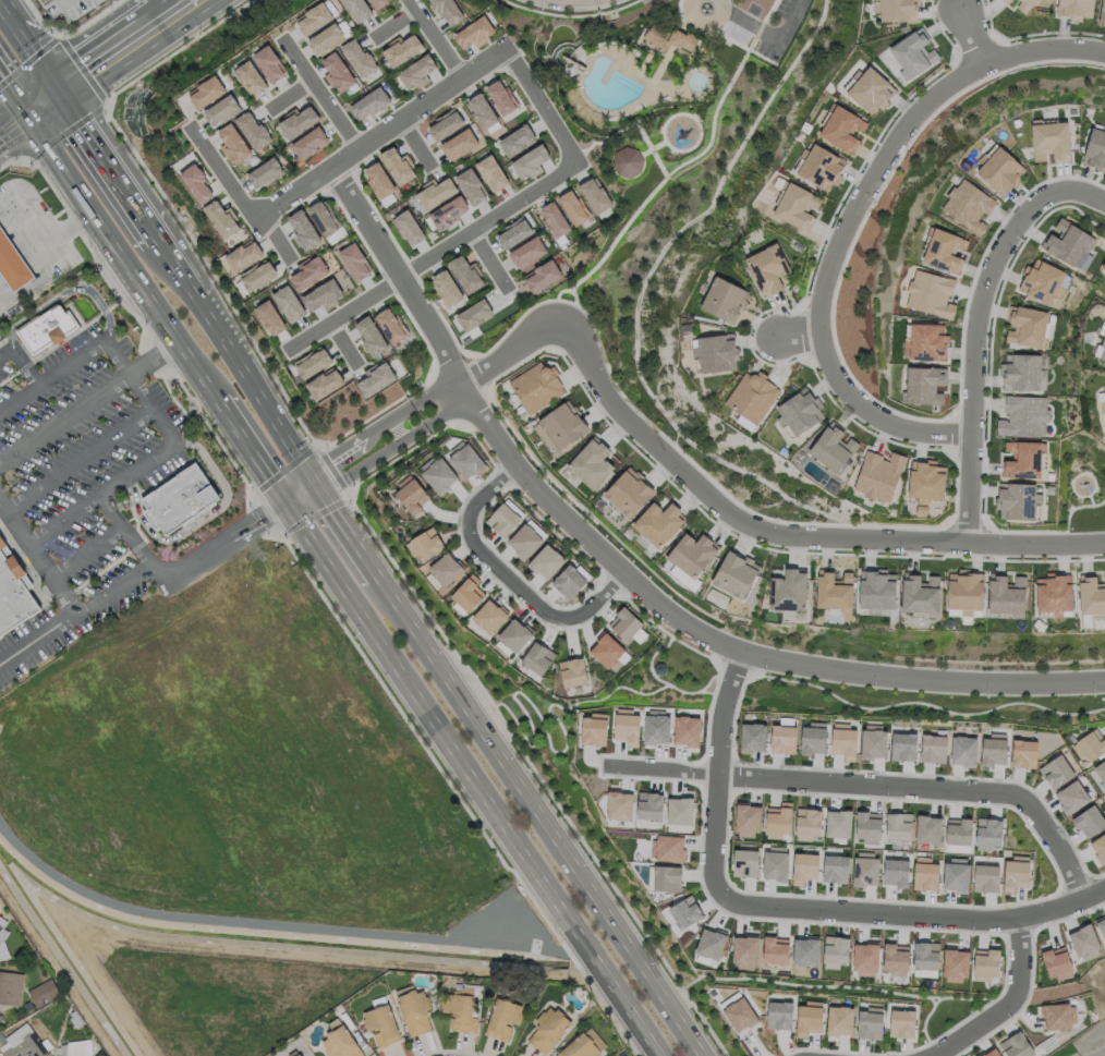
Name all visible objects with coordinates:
road: (576, 0)
building: (378, 3)
building: (1022, 3)
road: (169, 8)
road: (186, 8)
building: (356, 9)
building: (1074, 9)
building: (896, 10)
building: (447, 11)
building: (1102, 12)
building: (316, 16)
road: (703, 19)
road: (160, 26)
road: (398, 27)
building: (474, 33)
road: (767, 33)
road: (975, 33)
building: (329, 37)
building: (668, 38)
road: (436, 39)
road: (37, 44)
building: (401, 49)
road: (1069, 49)
building: (913, 53)
building: (360, 58)
road: (108, 63)
building: (269, 63)
building: (337, 72)
building: (414, 73)
building: (251, 78)
traffic signals: (69, 89)
building: (871, 90)
building: (207, 92)
road: (292, 95)
road: (321, 95)
building: (500, 97)
road: (12, 104)
road: (47, 104)
building: (369, 104)
road: (542, 105)
building: (222, 109)
building: (482, 113)
road: (12, 118)
traffic signals: (25, 119)
building: (297, 121)
building: (446, 124)
building: (841, 128)
building: (253, 131)
road: (15, 134)
road: (382, 135)
building: (515, 141)
building: (1051, 141)
building: (233, 143)
building: (309, 143)
building: (459, 144)
road: (421, 145)
building: (1095, 148)
road: (118, 160)
building: (530, 161)
building: (627, 161)
building: (396, 165)
building: (822, 167)
building: (1000, 170)
building: (265, 172)
building: (490, 172)
road: (223, 173)
building: (196, 183)
building: (379, 183)
building: (471, 186)
road: (1081, 189)
building: (435, 192)
building: (594, 195)
building: (798, 206)
building: (968, 206)
building: (573, 207)
building: (446, 214)
building: (221, 218)
building: (323, 218)
building: (552, 220)
road: (40, 224)
building: (406, 228)
building: (303, 230)
building: (513, 232)
road: (278, 236)
building: (1067, 242)
road: (841, 248)
building: (944, 248)
building: (526, 253)
building: (243, 255)
road: (120, 258)
road: (434, 258)
building: (354, 262)
road: (491, 262)
building: (13, 263)
gas station: (13, 263)
road: (183, 265)
building: (1103, 265)
building: (1103, 268)
building: (769, 269)
building: (307, 272)
building: (465, 274)
building: (258, 276)
building: (541, 276)
road: (35, 281)
building: (1042, 281)
building: (445, 288)
road: (63, 292)
building: (931, 294)
building: (323, 295)
building: (726, 301)
building: (289, 305)
road: (3, 306)
building: (475, 315)
building: (270, 319)
building: (392, 327)
building: (1030, 327)
building: (47, 330)
road: (799, 335)
building: (372, 338)
building: (927, 341)
building: (1101, 343)
road: (345, 345)
building: (717, 353)
road: (980, 354)
road: (21, 361)
building: (313, 364)
road: (69, 365)
building: (1024, 372)
building: (376, 380)
road: (256, 384)
building: (325, 385)
building: (924, 385)
building: (537, 388)
building: (754, 398)
building: (1102, 400)
road: (86, 401)
road: (151, 408)
building: (802, 412)
building: (1024, 416)
road: (399, 417)
building: (563, 426)
road: (398, 433)
road: (413, 437)
building: (835, 448)
road: (247, 452)
building: (466, 457)
building: (1024, 459)
road: (75, 460)
building: (592, 465)
road: (137, 469)
traffic signals: (312, 472)
building: (439, 474)
building: (879, 475)
building: (927, 481)
road: (318, 482)
road: (297, 487)
traffic signals: (325, 493)
building: (630, 494)
building: (412, 495)
road: (304, 498)
building: (179, 500)
building: (1018, 500)
traffic signals: (283, 503)
road: (62, 519)
road: (197, 520)
building: (503, 520)
road: (749, 522)
building: (660, 524)
road: (125, 530)
road: (352, 533)
building: (525, 542)
building: (426, 545)
road: (86, 551)
building: (694, 556)
building: (547, 562)
building: (447, 569)
road: (506, 575)
building: (737, 575)
road: (626, 576)
road: (126, 581)
building: (570, 582)
building: (878, 588)
building: (835, 590)
building: (966, 591)
building: (790, 592)
building: (469, 593)
building: (921, 593)
building: (1055, 593)
building: (1008, 594)
building: (1092, 594)
building: (13, 602)
building: (490, 616)
building: (627, 618)
building: (515, 635)
road: (37, 636)
building: (606, 645)
building: (538, 657)
building: (574, 671)
road: (725, 712)
building: (624, 724)
building: (654, 725)
building: (687, 725)
building: (592, 726)
building: (782, 732)
building: (812, 733)
building: (750, 735)
building: (841, 736)
building: (873, 740)
building: (902, 741)
building: (1090, 741)
building: (933, 742)
building: (963, 745)
building: (993, 745)
building: (1023, 749)
building: (1055, 766)
road: (663, 769)
building: (1100, 770)
road: (466, 780)
road: (931, 788)
building: (1071, 791)
building: (617, 801)
building: (647, 802)
building: (678, 810)
road: (538, 815)
building: (744, 815)
building: (806, 817)
building: (1091, 817)
building: (777, 818)
building: (837, 820)
building: (896, 822)
building: (863, 824)
building: (925, 825)
building: (956, 828)
building: (987, 829)
building: (667, 845)
building: (1100, 845)
building: (746, 857)
building: (774, 861)
building: (834, 862)
building: (803, 864)
building: (865, 864)
building: (892, 866)
building: (1015, 867)
building: (923, 871)
building: (954, 871)
building: (666, 874)
building: (983, 874)
building: (684, 907)
road: (853, 910)
building: (1101, 926)
building: (2, 928)
building: (707, 940)
building: (1084, 943)
building: (743, 947)
building: (835, 947)
building: (773, 948)
building: (804, 948)
building: (924, 951)
building: (862, 954)
building: (892, 955)
building: (954, 960)
building: (986, 961)
building: (1056, 962)
building: (11, 987)
building: (44, 992)
road: (1008, 1005)
building: (27, 1006)
building: (460, 1009)
building: (739, 1010)
building: (414, 1011)
building: (777, 1012)
building: (807, 1013)
building: (1058, 1017)
building: (75, 1018)
building: (502, 1018)
building: (838, 1018)
building: (870, 1020)
building: (900, 1020)
building: (380, 1022)
building: (548, 1030)
building: (1, 1040)
building: (24, 1043)
building: (340, 1043)
building: (582, 1045)
building: (1017, 1045)
building: (74, 1048)
building: (991, 1053)
building: (287, 1055)
building: (299, 1055)

